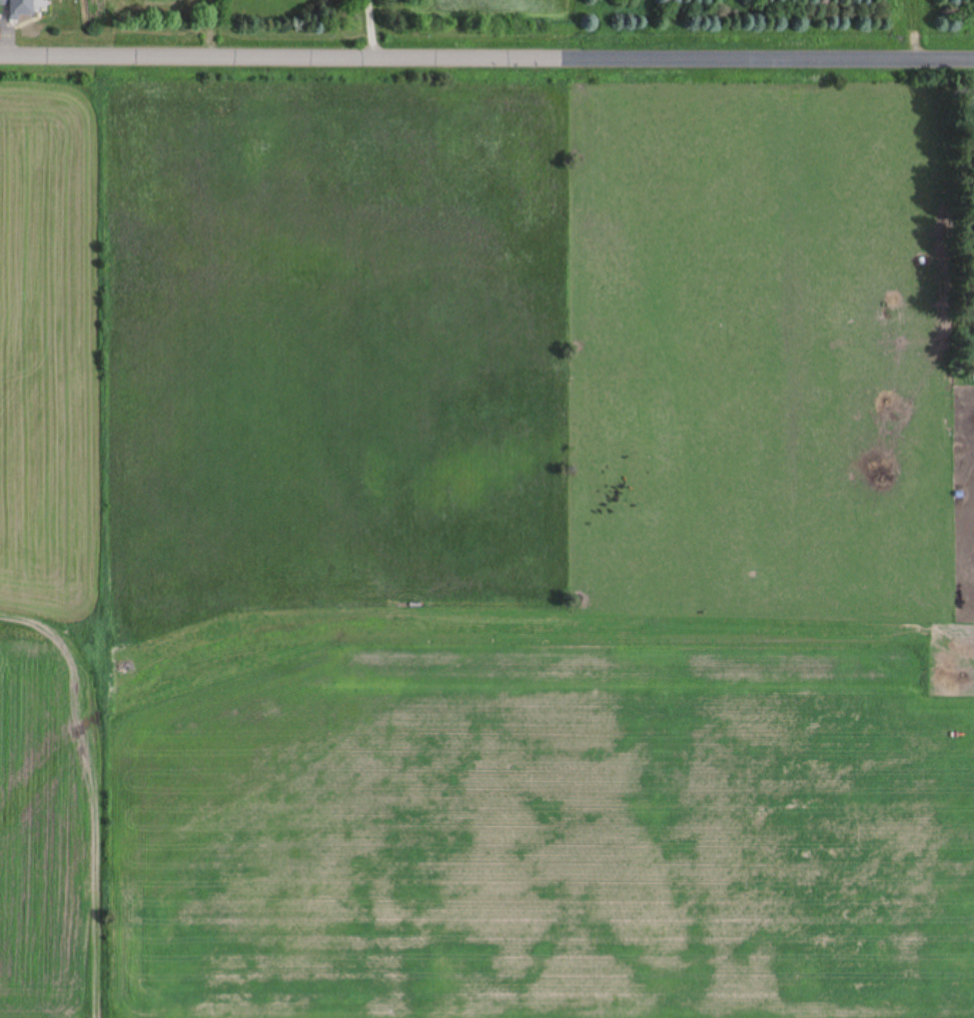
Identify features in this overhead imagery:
building: (19, 8)
road: (372, 28)
road: (487, 57)
crop: (482, 544)

